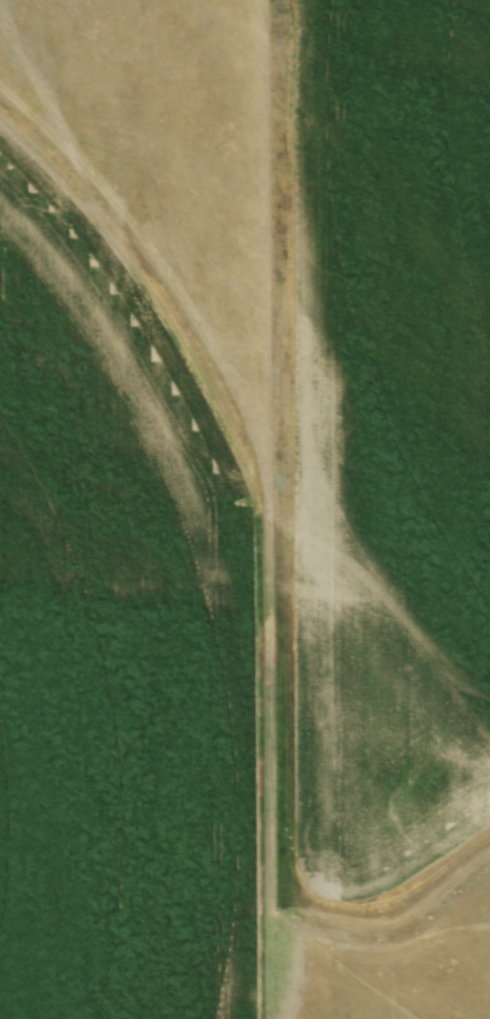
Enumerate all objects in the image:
crop: (391, 438)
crop: (116, 647)

